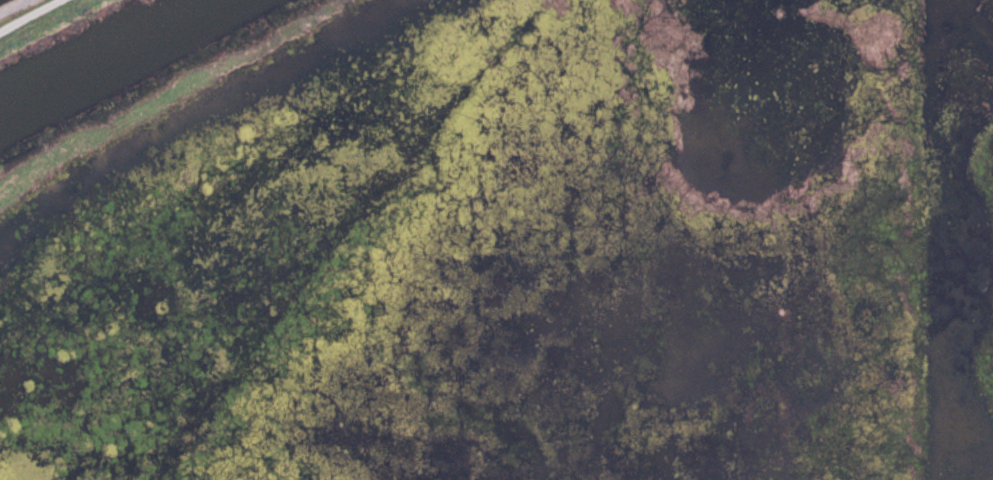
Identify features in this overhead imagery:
road: (17, 10)

